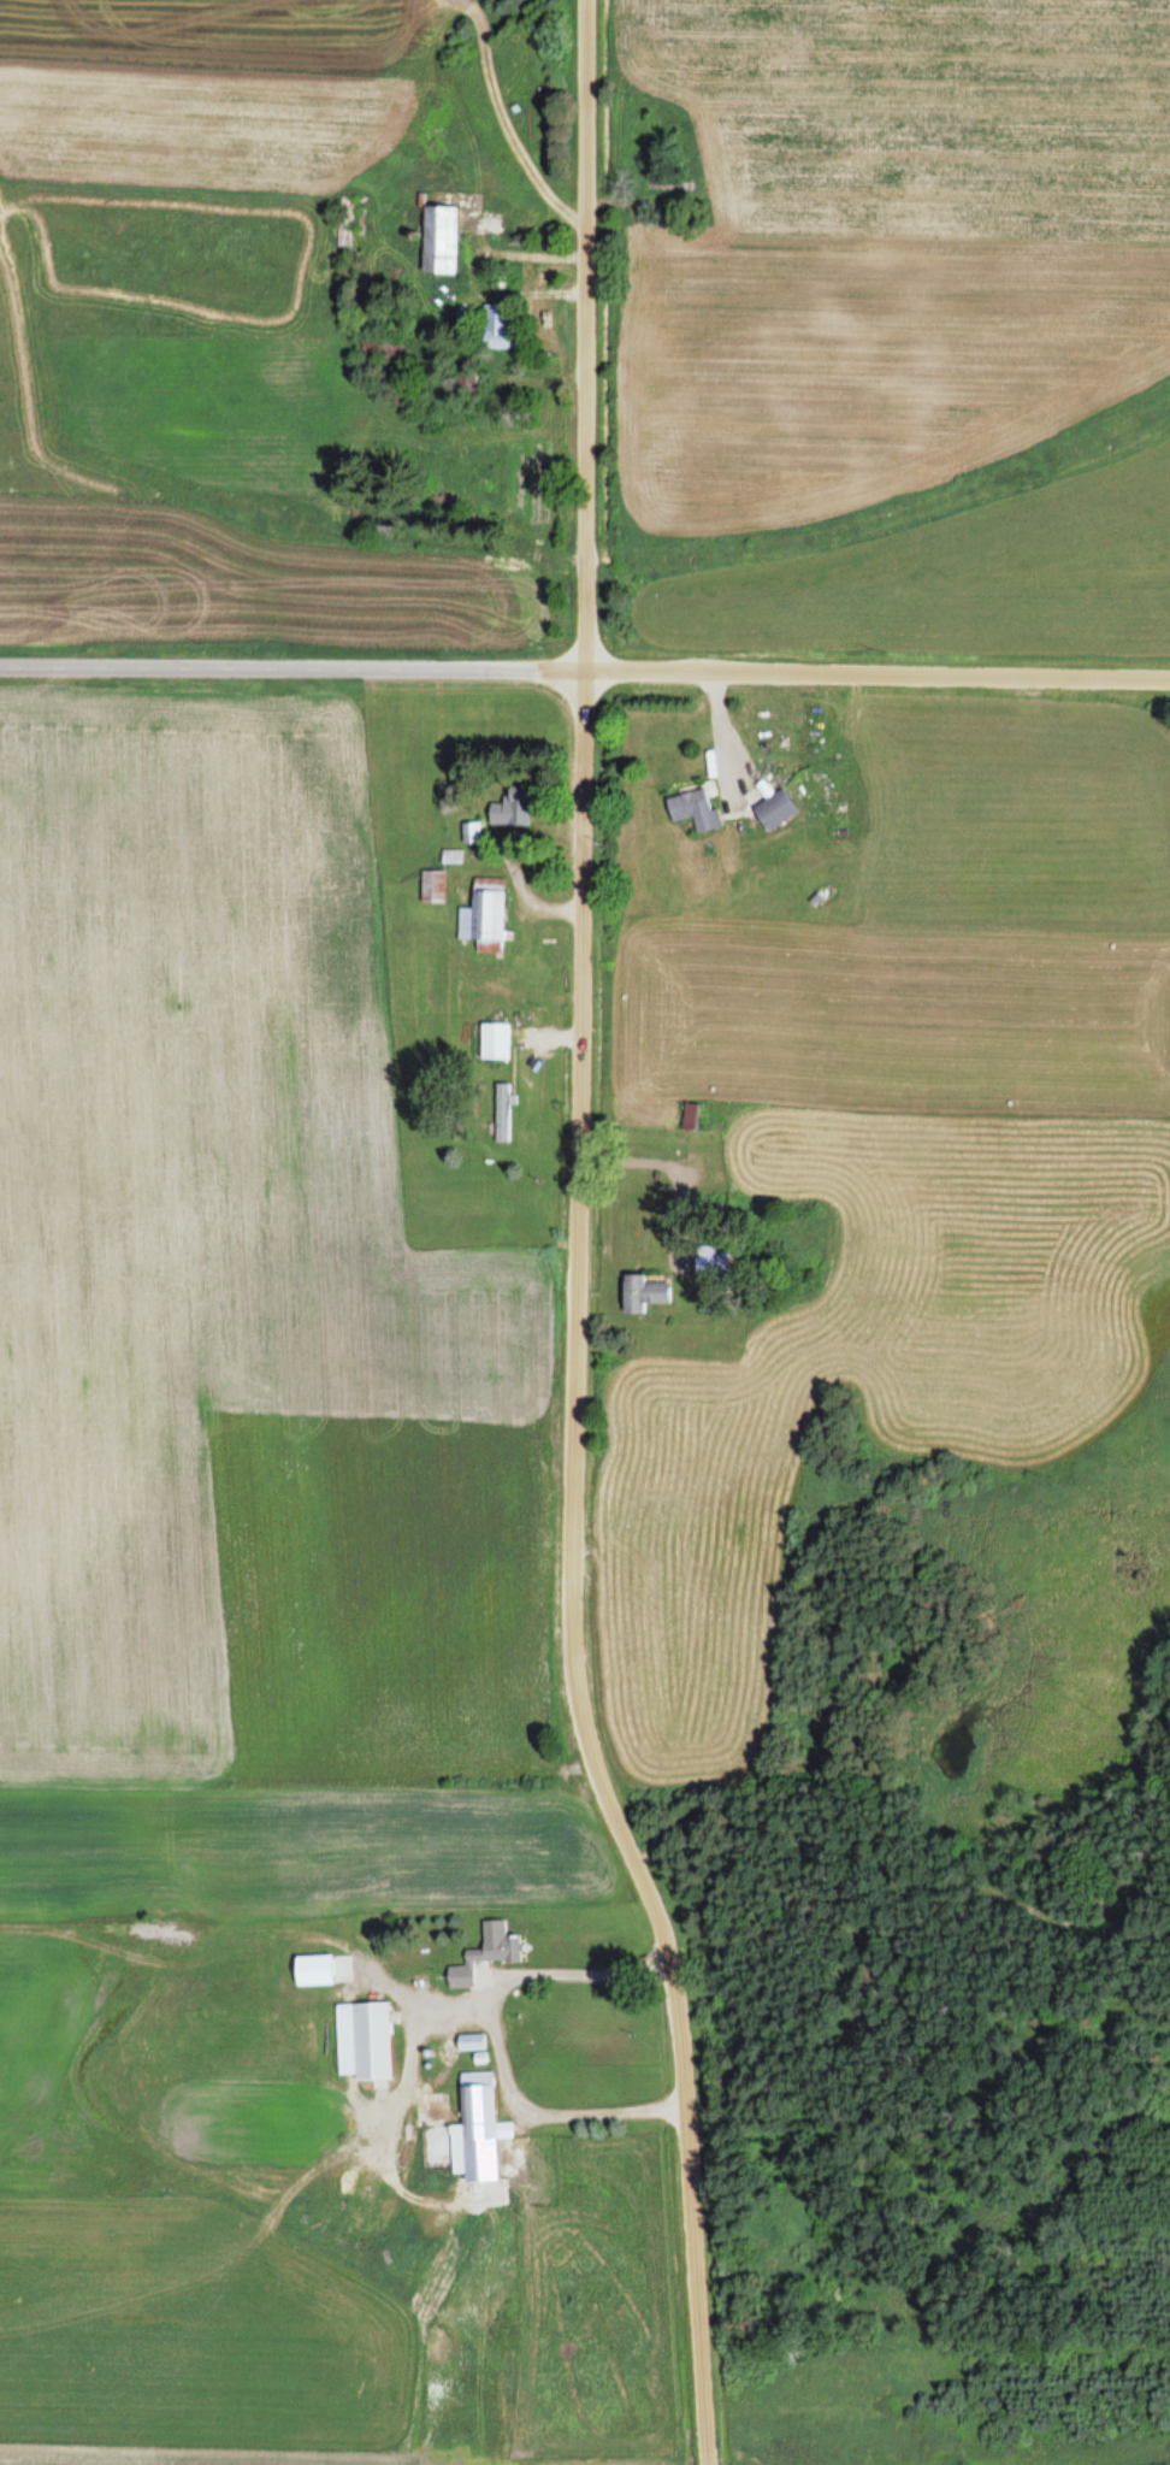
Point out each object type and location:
building: (439, 240)
building: (497, 326)
road: (581, 334)
building: (378, 350)
road: (292, 665)
road: (877, 673)
building: (512, 807)
building: (693, 808)
building: (775, 808)
building: (432, 886)
building: (484, 915)
building: (495, 1039)
building: (502, 1111)
building: (691, 1115)
building: (713, 1258)
building: (643, 1292)
road: (569, 1575)
building: (486, 1953)
building: (364, 2040)
building: (475, 2130)

